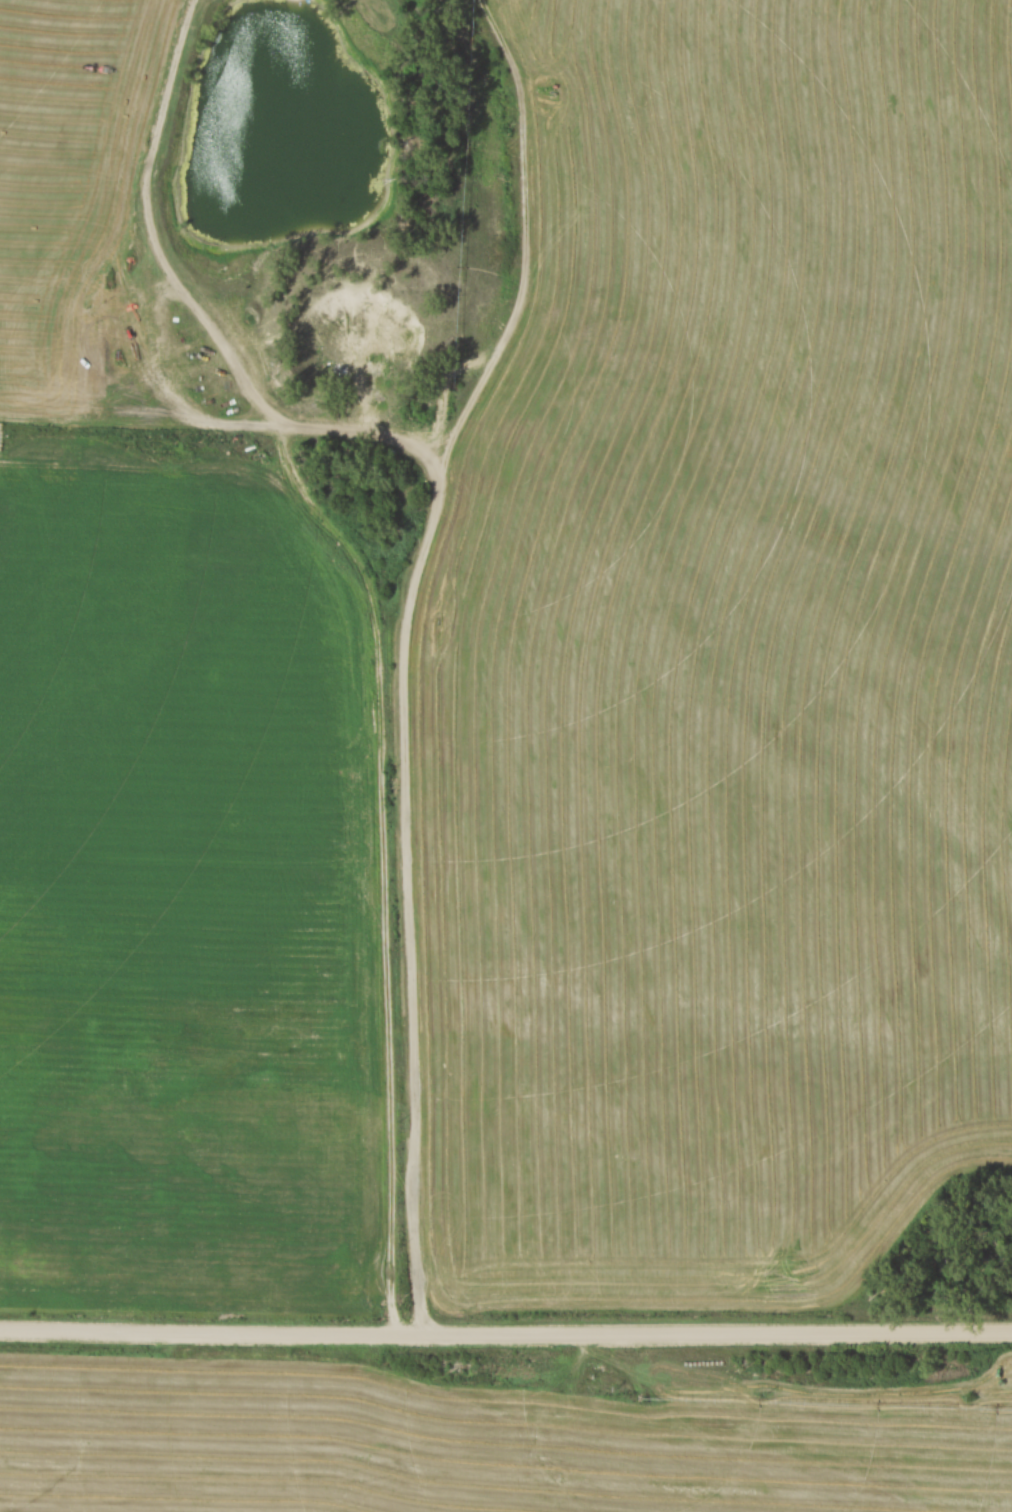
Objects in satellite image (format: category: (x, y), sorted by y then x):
road: (384, 869)
road: (505, 1336)

